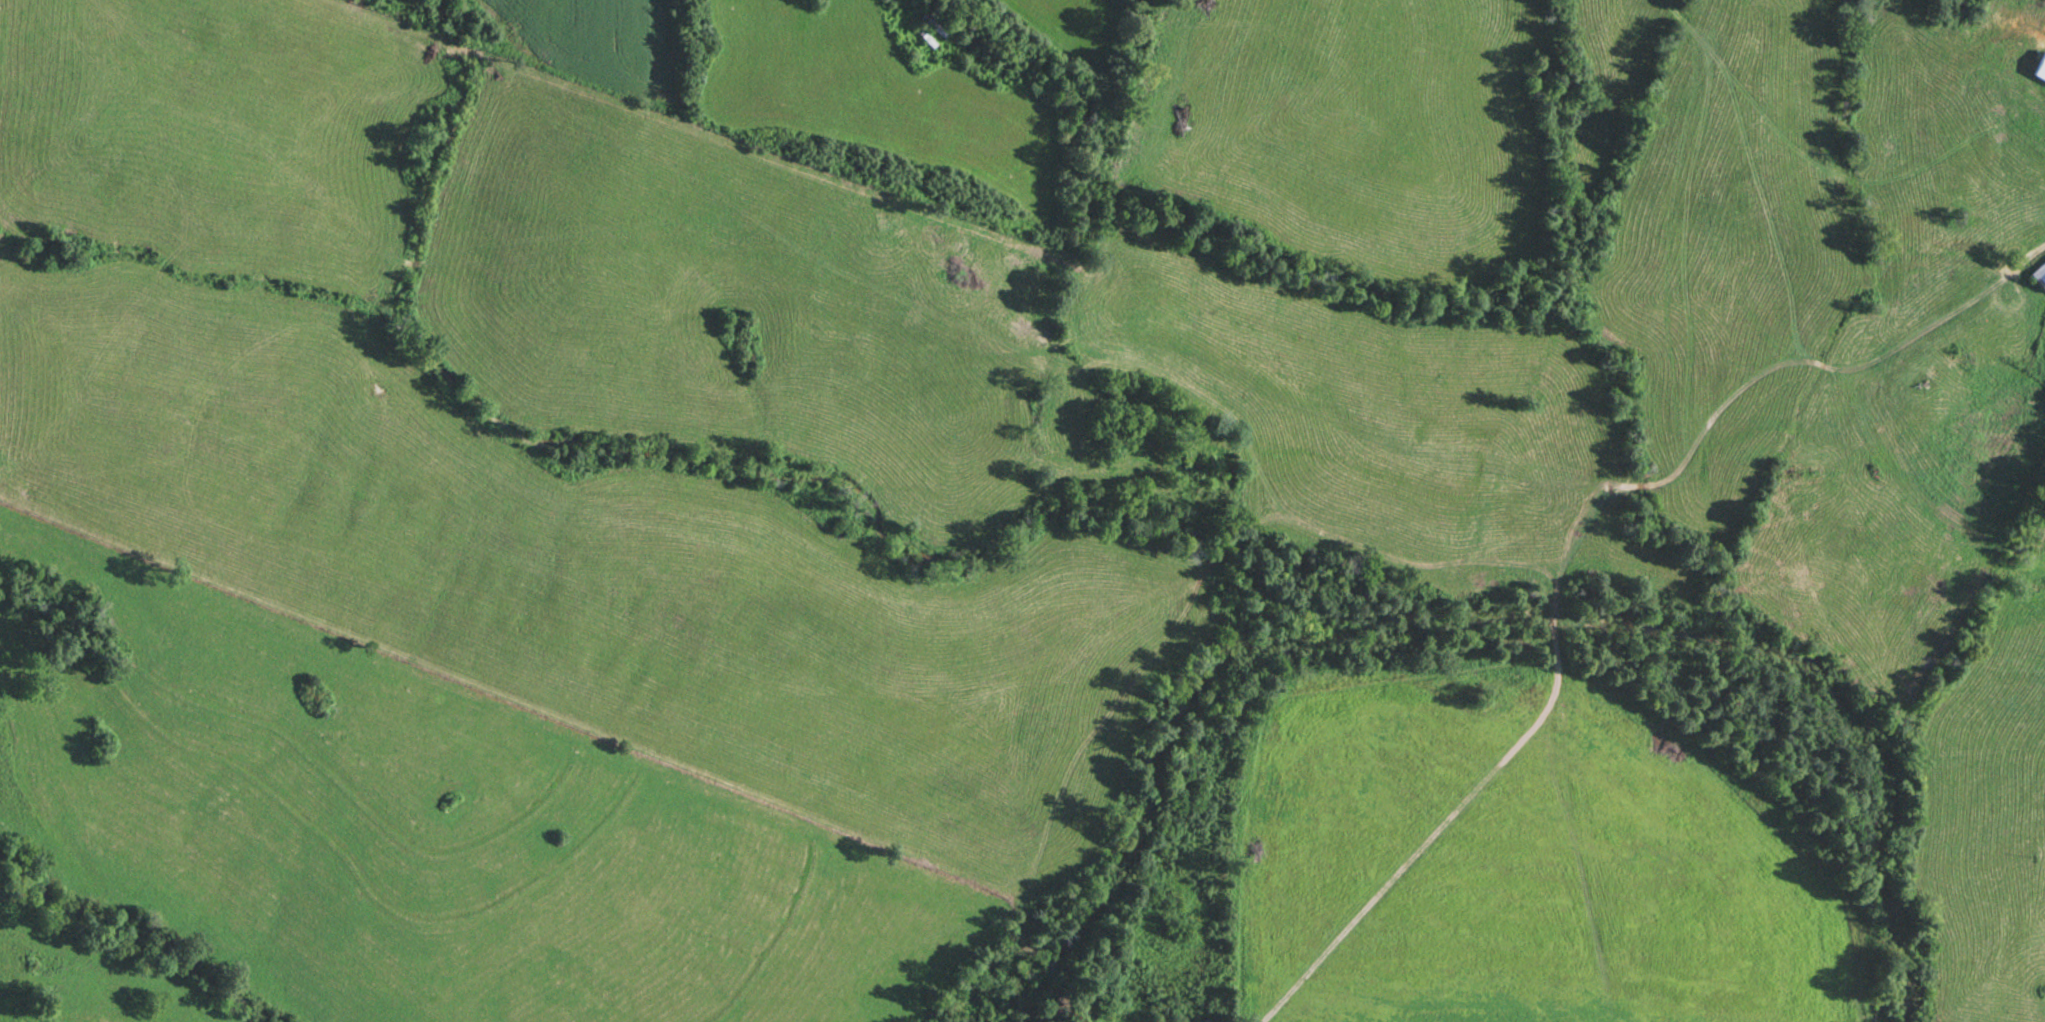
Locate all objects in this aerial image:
building: (2039, 68)
building: (2039, 276)

